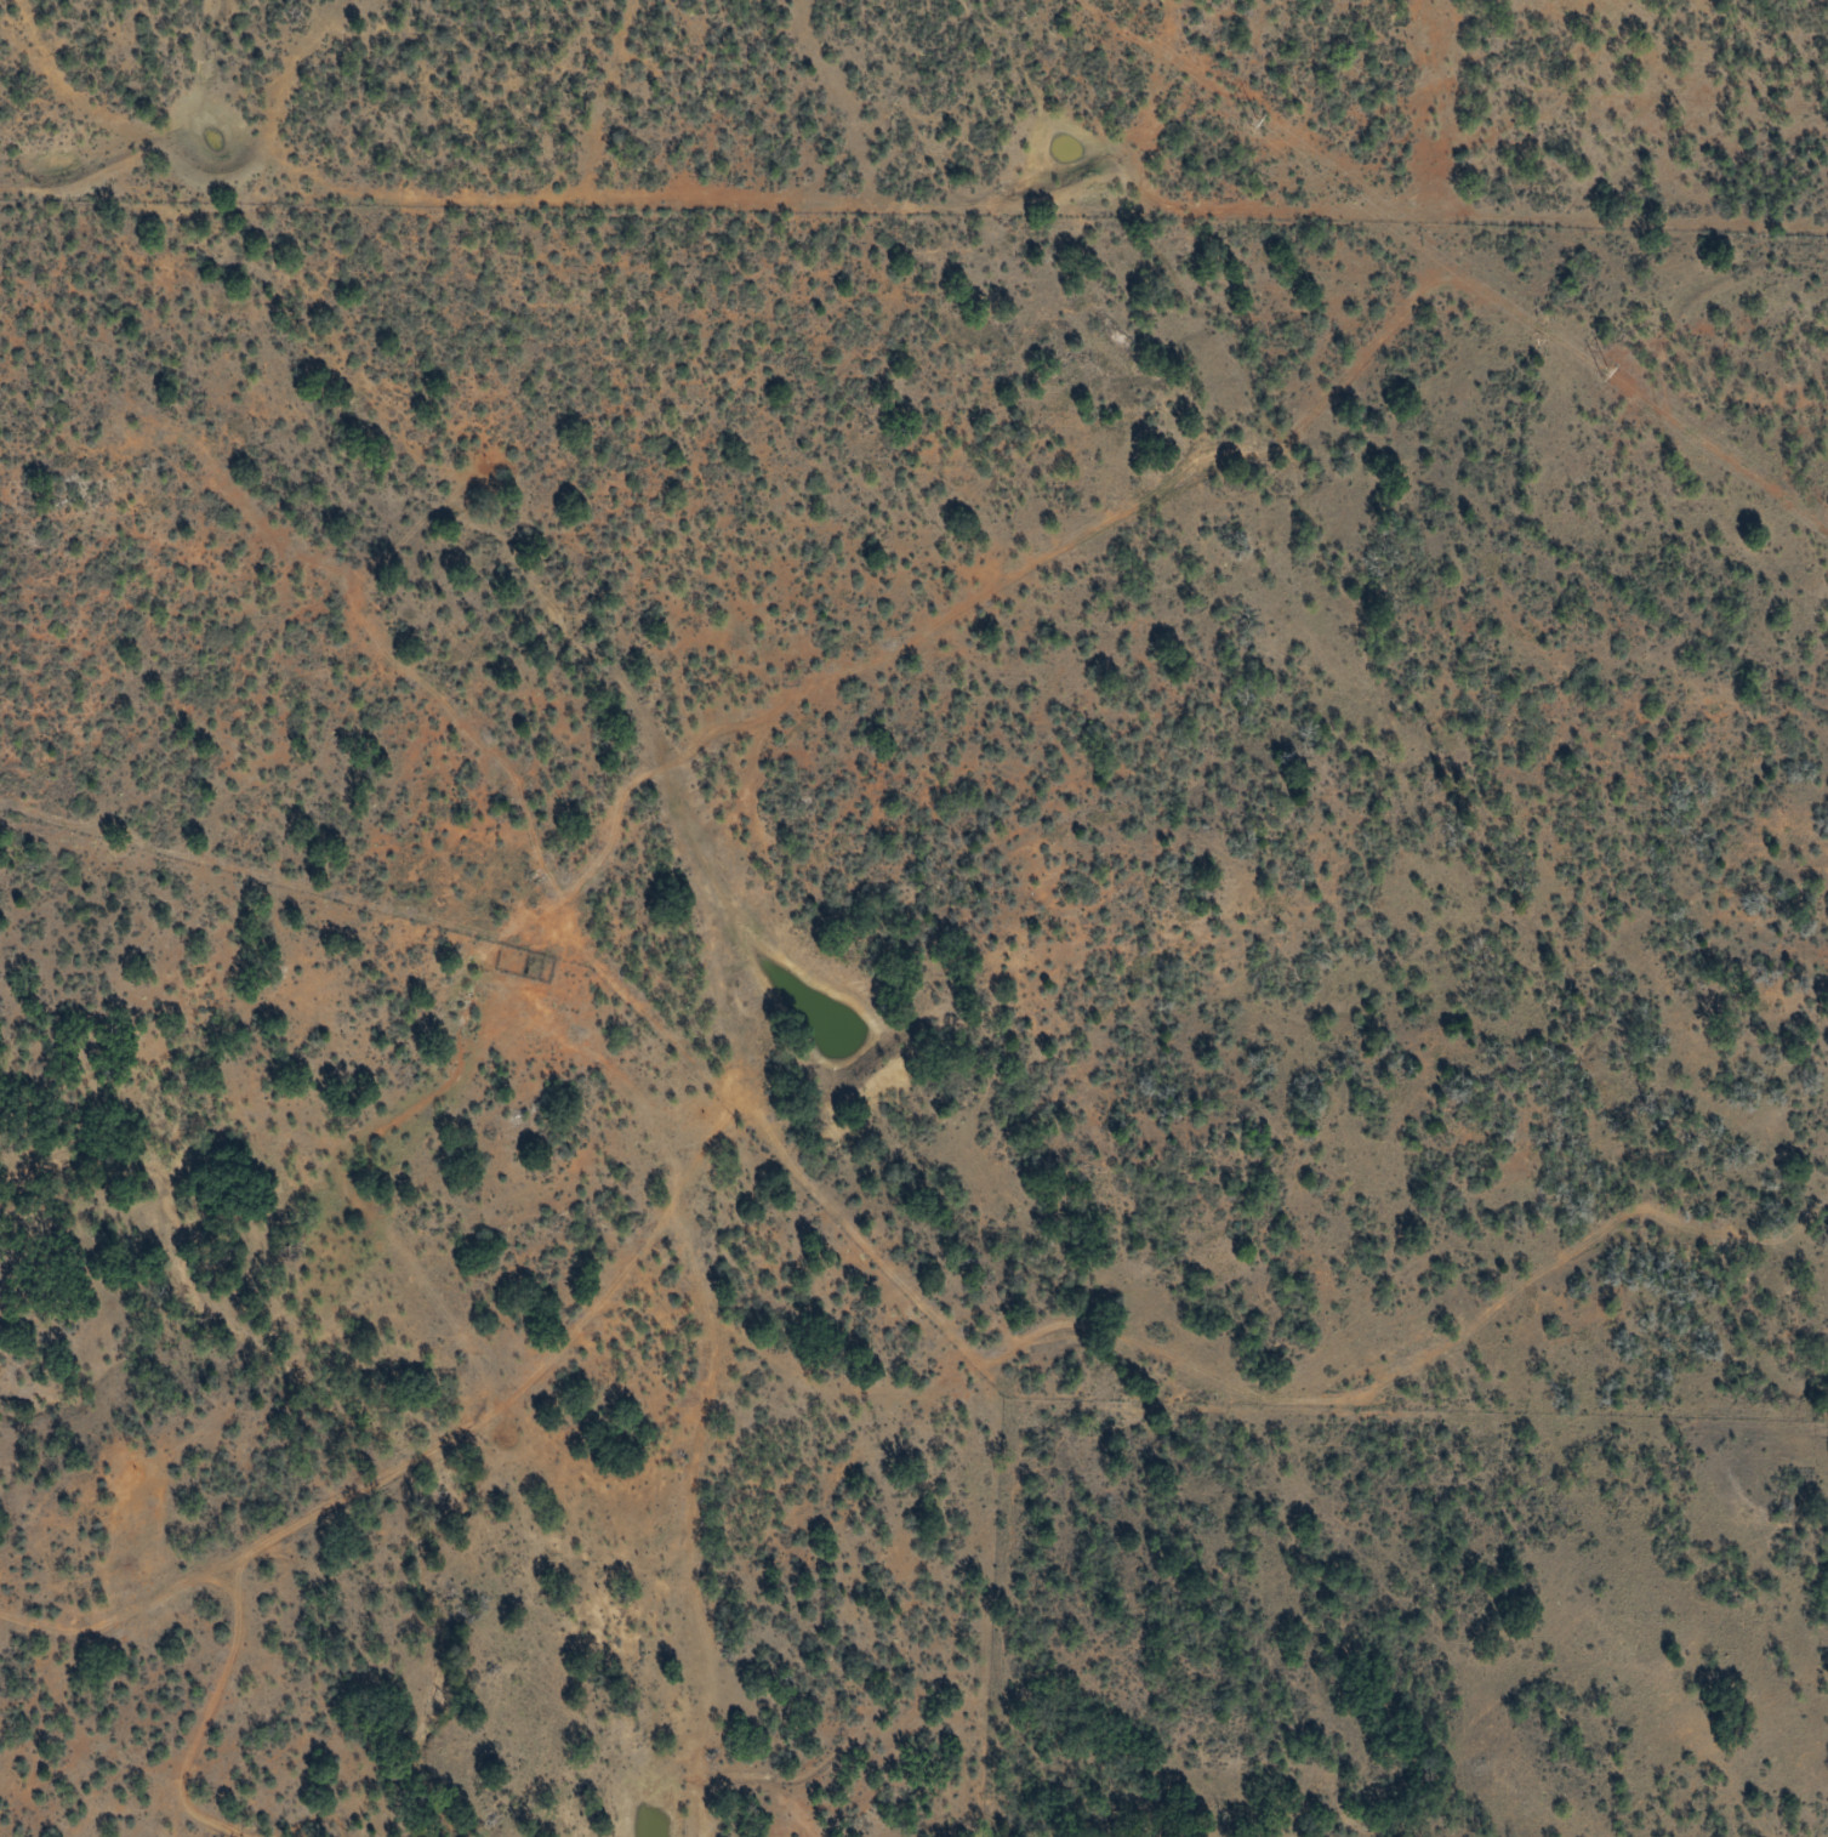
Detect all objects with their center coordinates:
power tower: (1263, 123)
power tower: (1612, 368)
road: (429, 1462)

